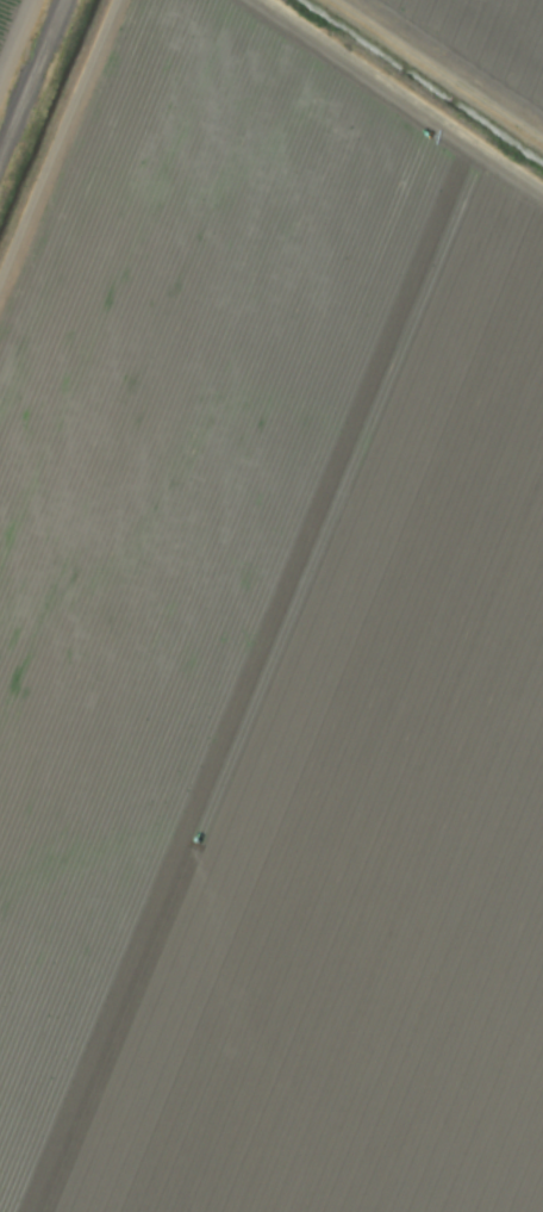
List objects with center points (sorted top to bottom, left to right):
road: (35, 85)
crop: (271, 605)

